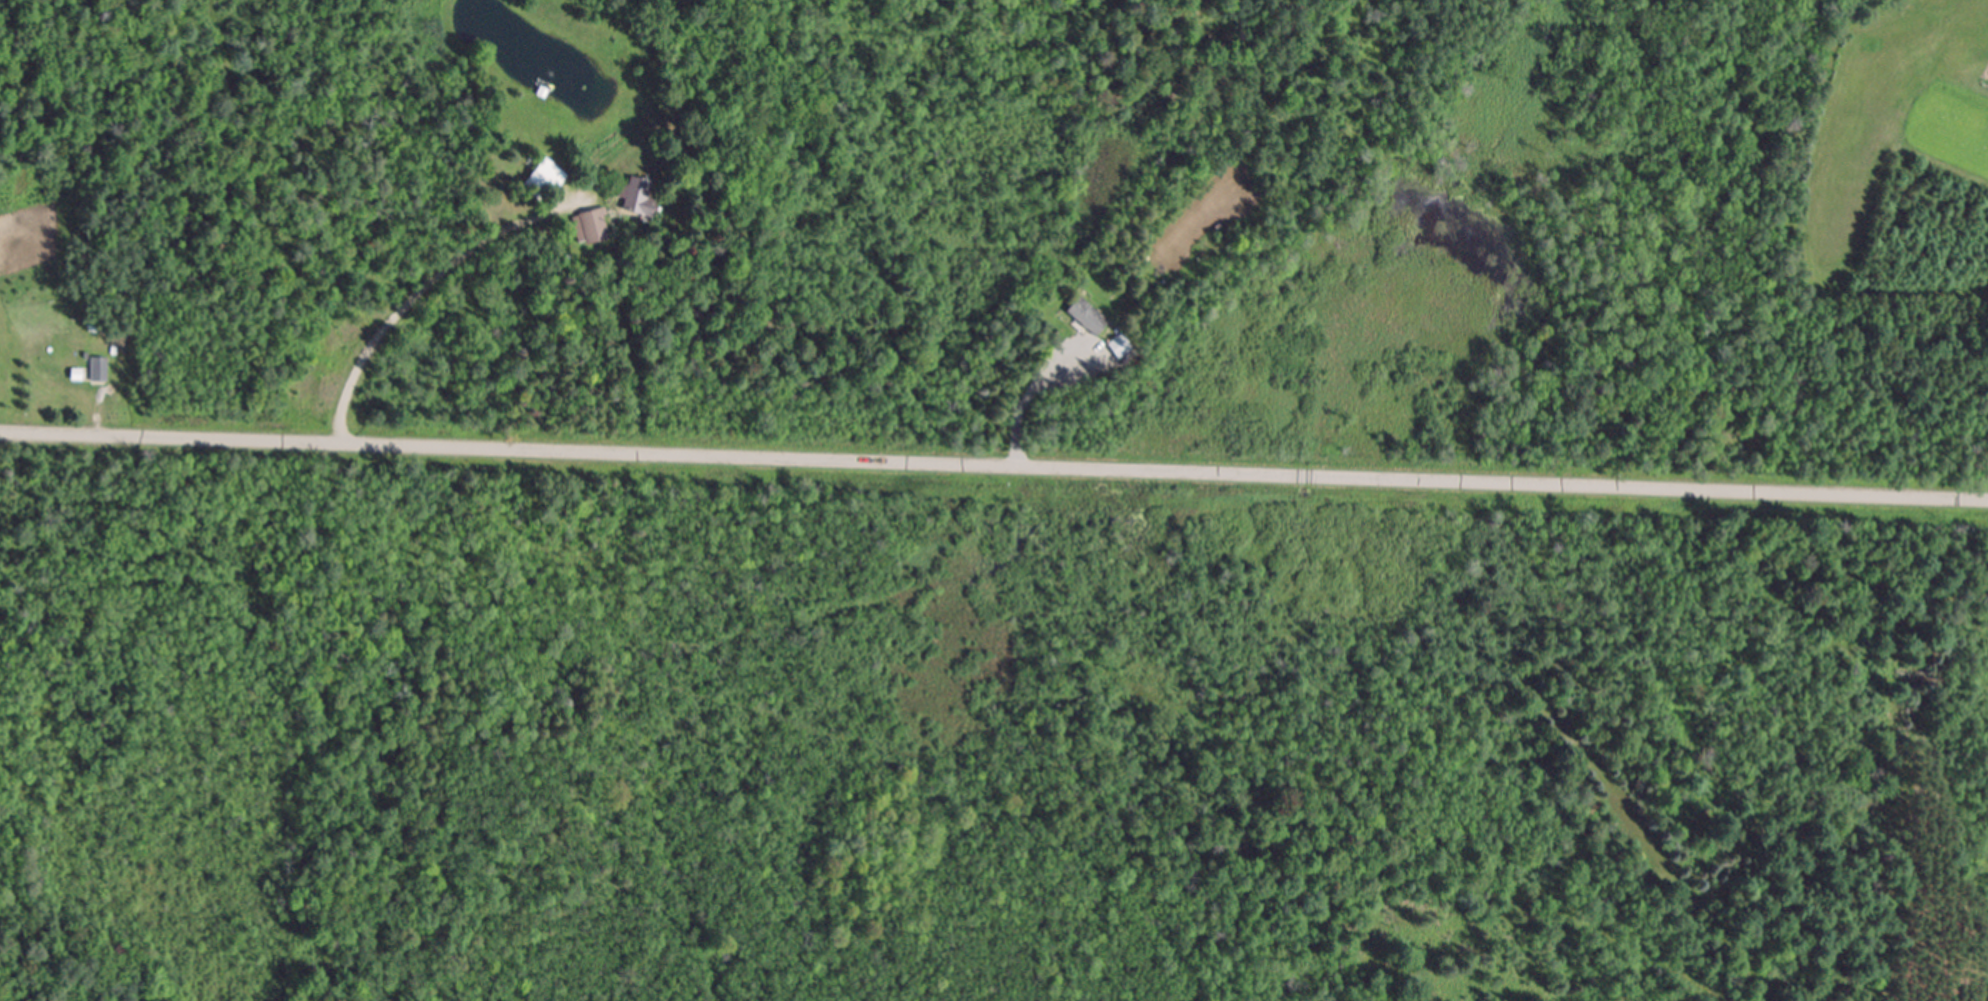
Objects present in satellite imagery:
building: (544, 178)
building: (639, 197)
building: (592, 226)
road: (420, 296)
building: (1083, 316)
building: (96, 367)
road: (1027, 411)
road: (994, 465)

